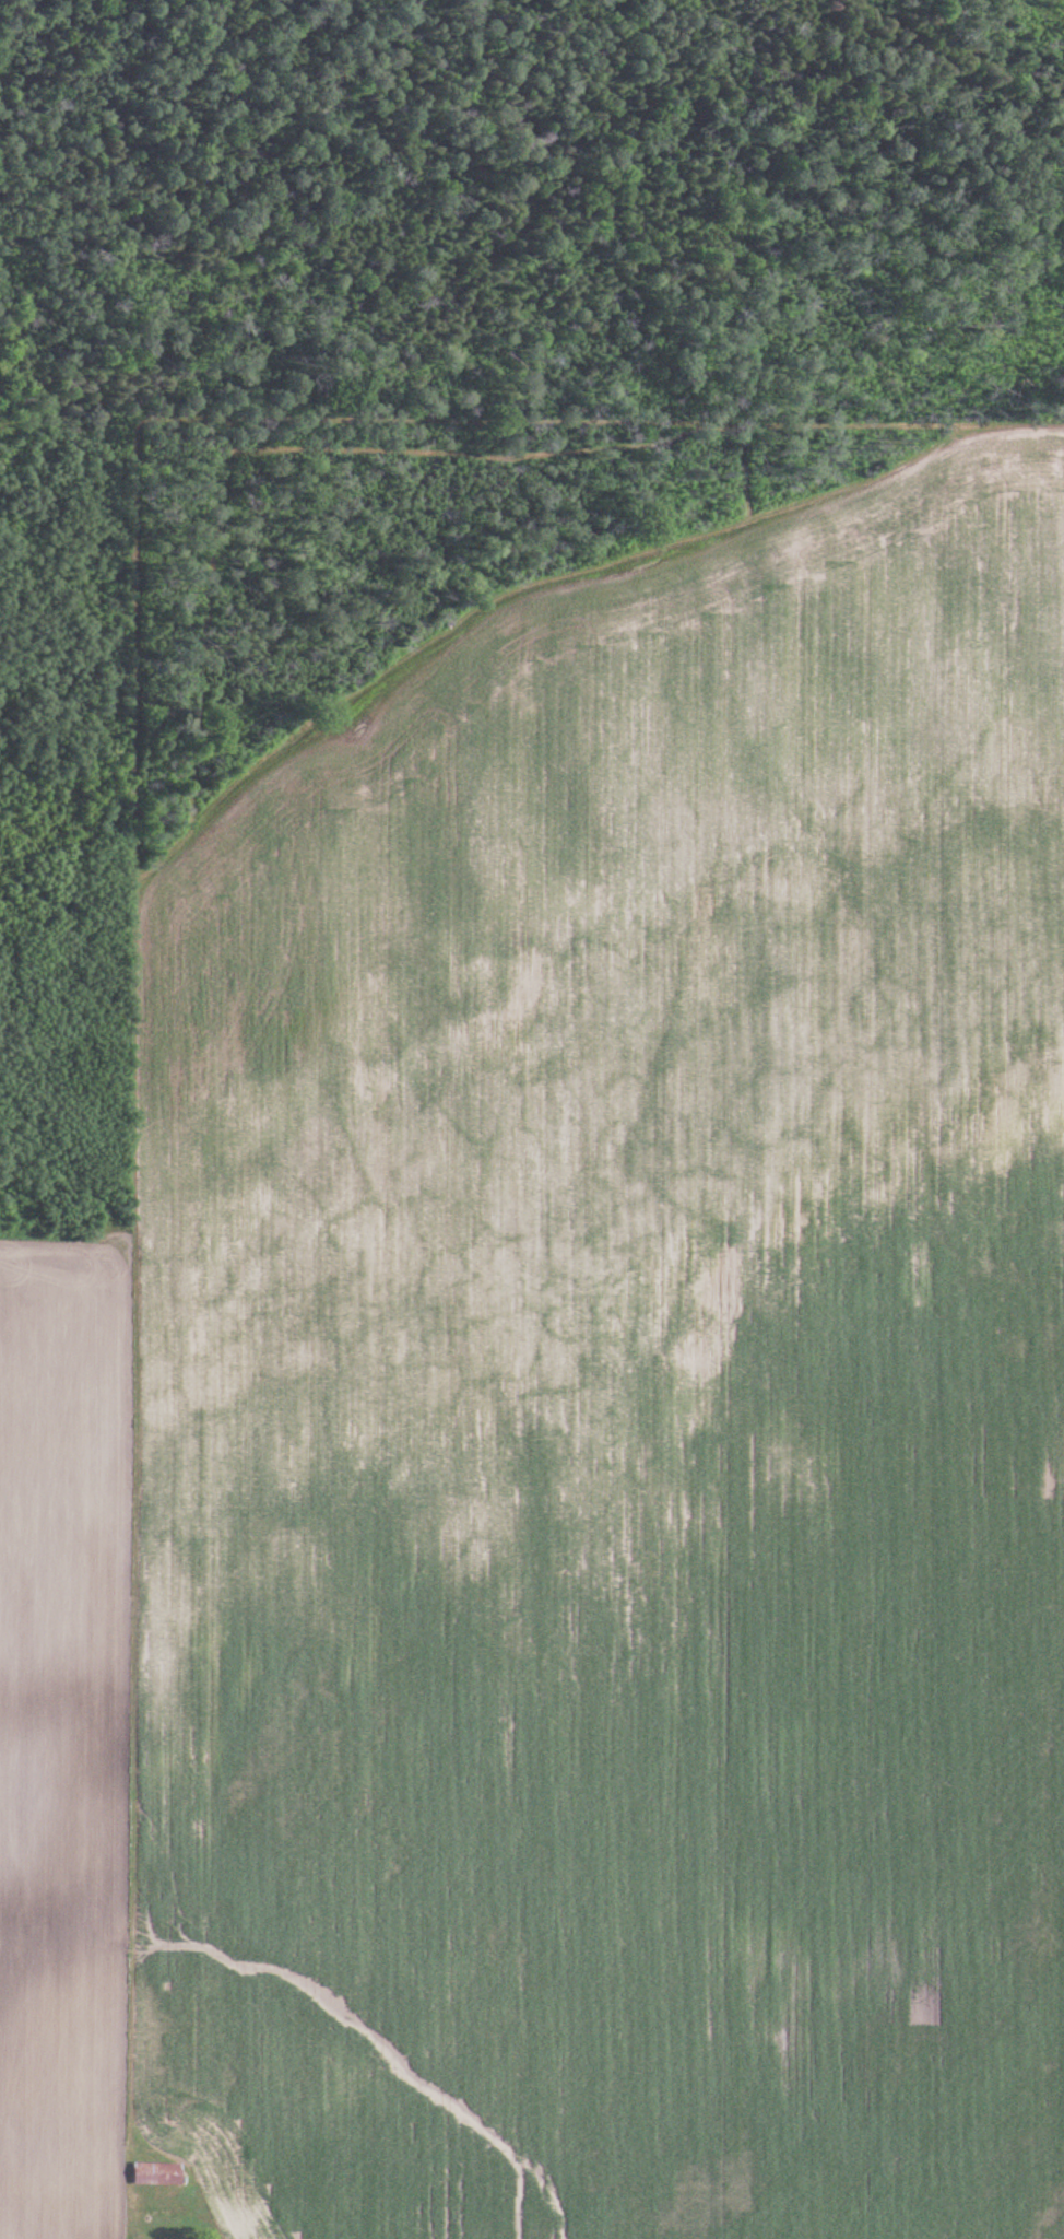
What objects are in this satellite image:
building: (157, 2173)

